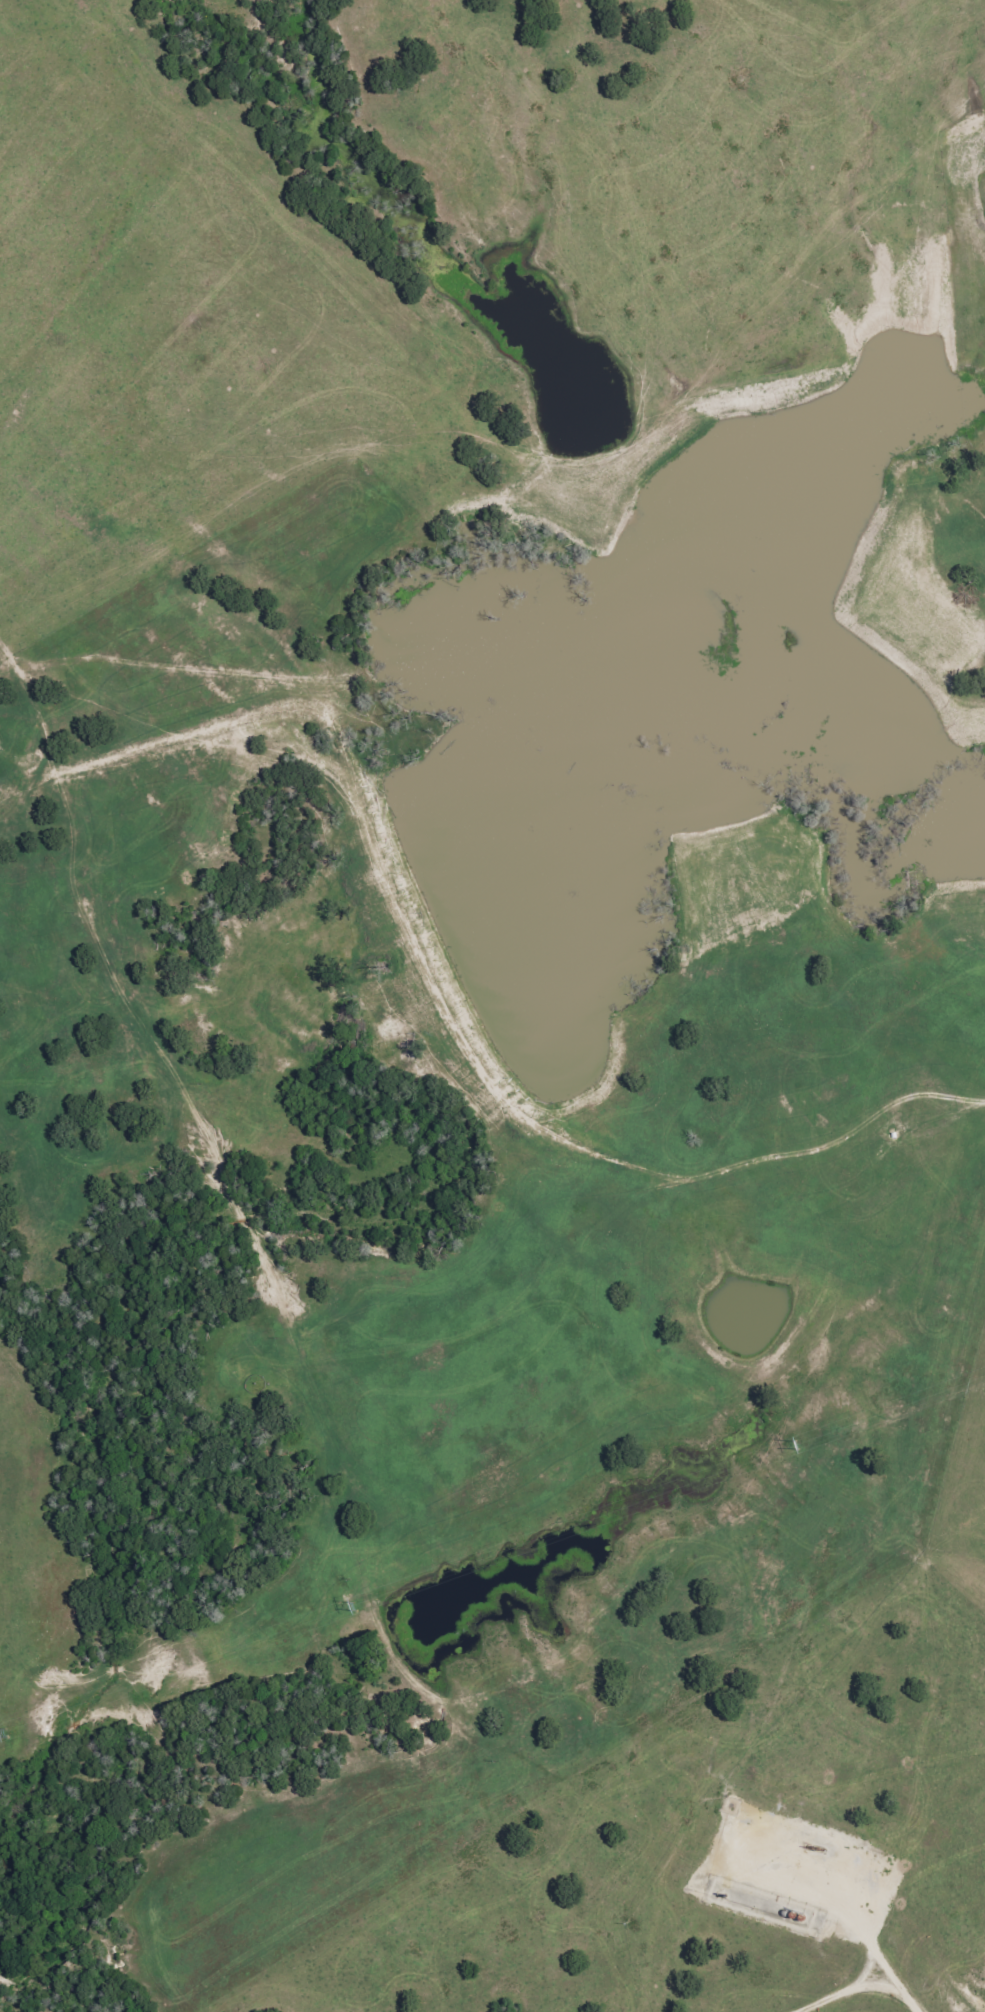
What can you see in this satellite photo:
road: (954, 1104)
power tower: (799, 1449)
power tower: (380, 1602)
power tower: (8, 1736)
road: (838, 1900)
road: (862, 1986)

